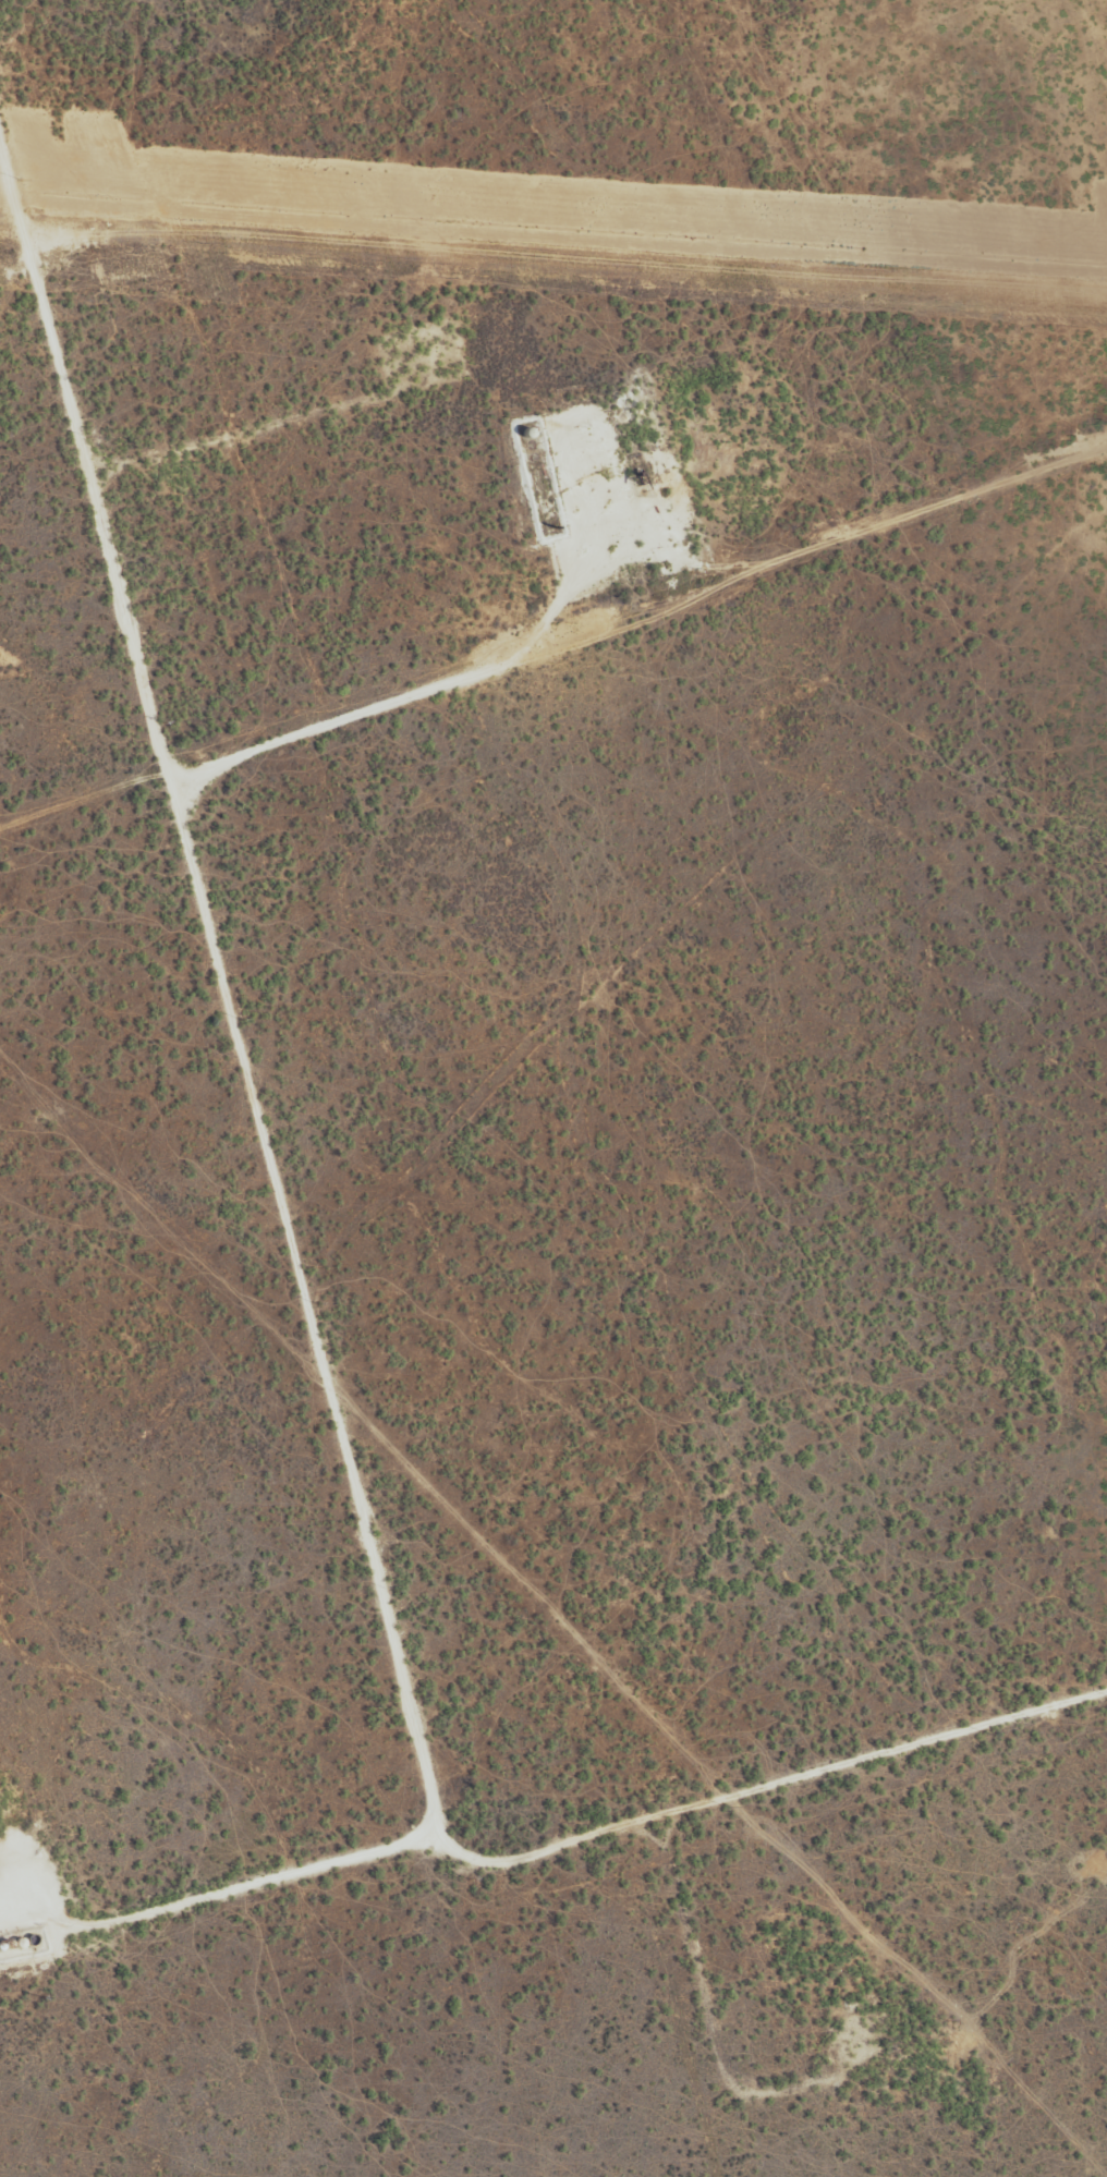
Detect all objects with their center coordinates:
road: (330, 1281)

